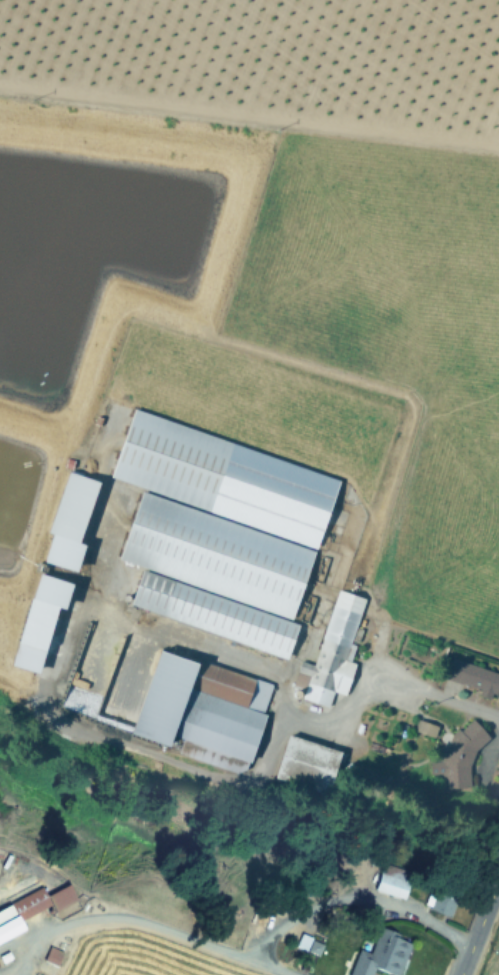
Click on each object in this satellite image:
crop: (255, 390)
building: (70, 521)
building: (221, 532)
building: (40, 620)
building: (332, 653)
building: (474, 677)
road: (435, 696)
building: (203, 711)
building: (458, 755)
building: (308, 765)
road: (485, 767)
building: (390, 884)
road: (362, 900)
building: (34, 907)
road: (145, 917)
road: (479, 927)
crop: (110, 929)
building: (53, 956)
building: (379, 958)
crop: (493, 960)

